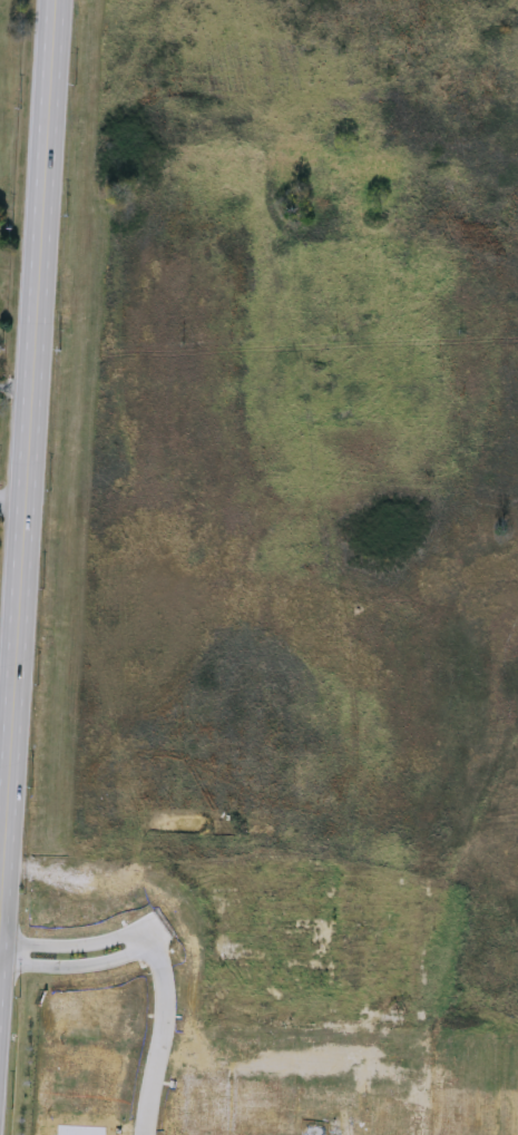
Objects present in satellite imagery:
road: (20, 353)
road: (9, 388)
road: (167, 923)
road: (165, 1026)

